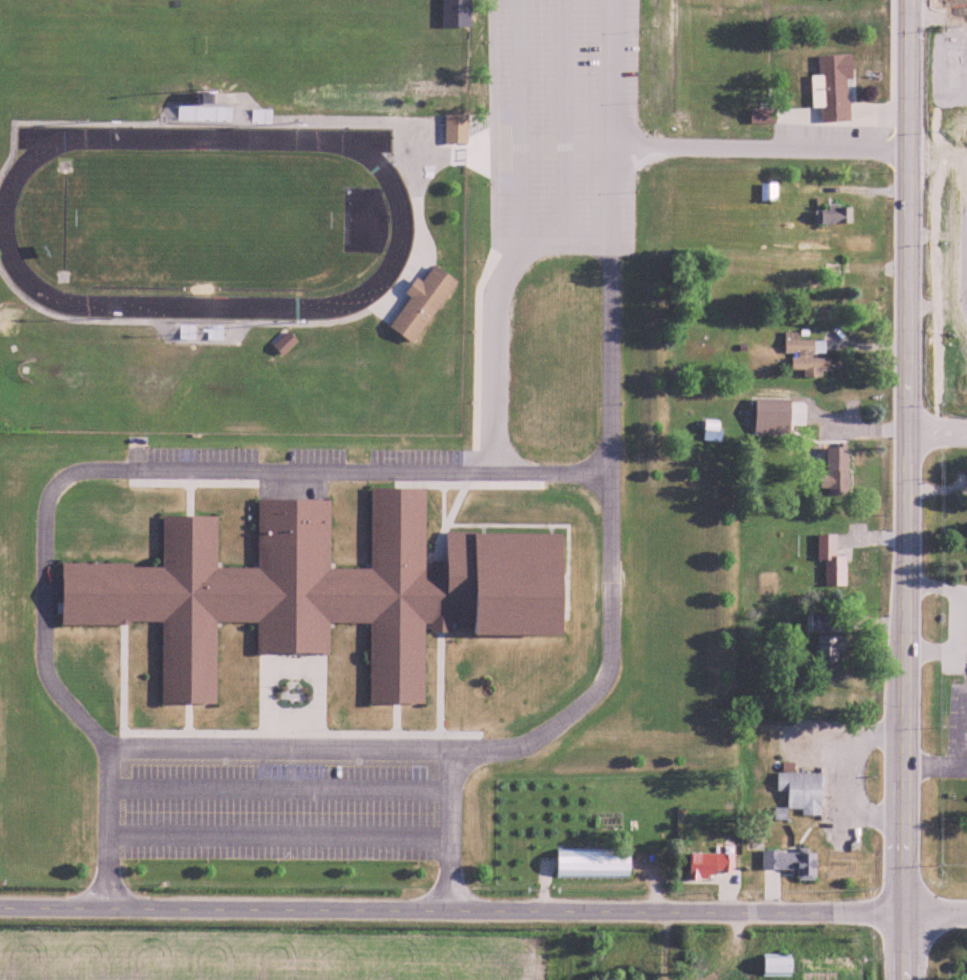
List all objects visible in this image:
road: (939, 15)
building: (834, 89)
building: (206, 111)
road: (911, 111)
building: (762, 117)
road: (620, 123)
building: (457, 129)
building: (769, 193)
building: (835, 216)
track: (403, 228)
building: (820, 290)
building: (424, 304)
building: (286, 344)
building: (808, 356)
building: (712, 431)
road: (937, 433)
building: (839, 471)
building: (833, 561)
building: (326, 592)
road: (904, 601)
building: (820, 622)
building: (832, 649)
building: (803, 792)
building: (793, 863)
building: (595, 866)
building: (708, 867)
road: (450, 911)
road: (934, 915)
building: (779, 966)

